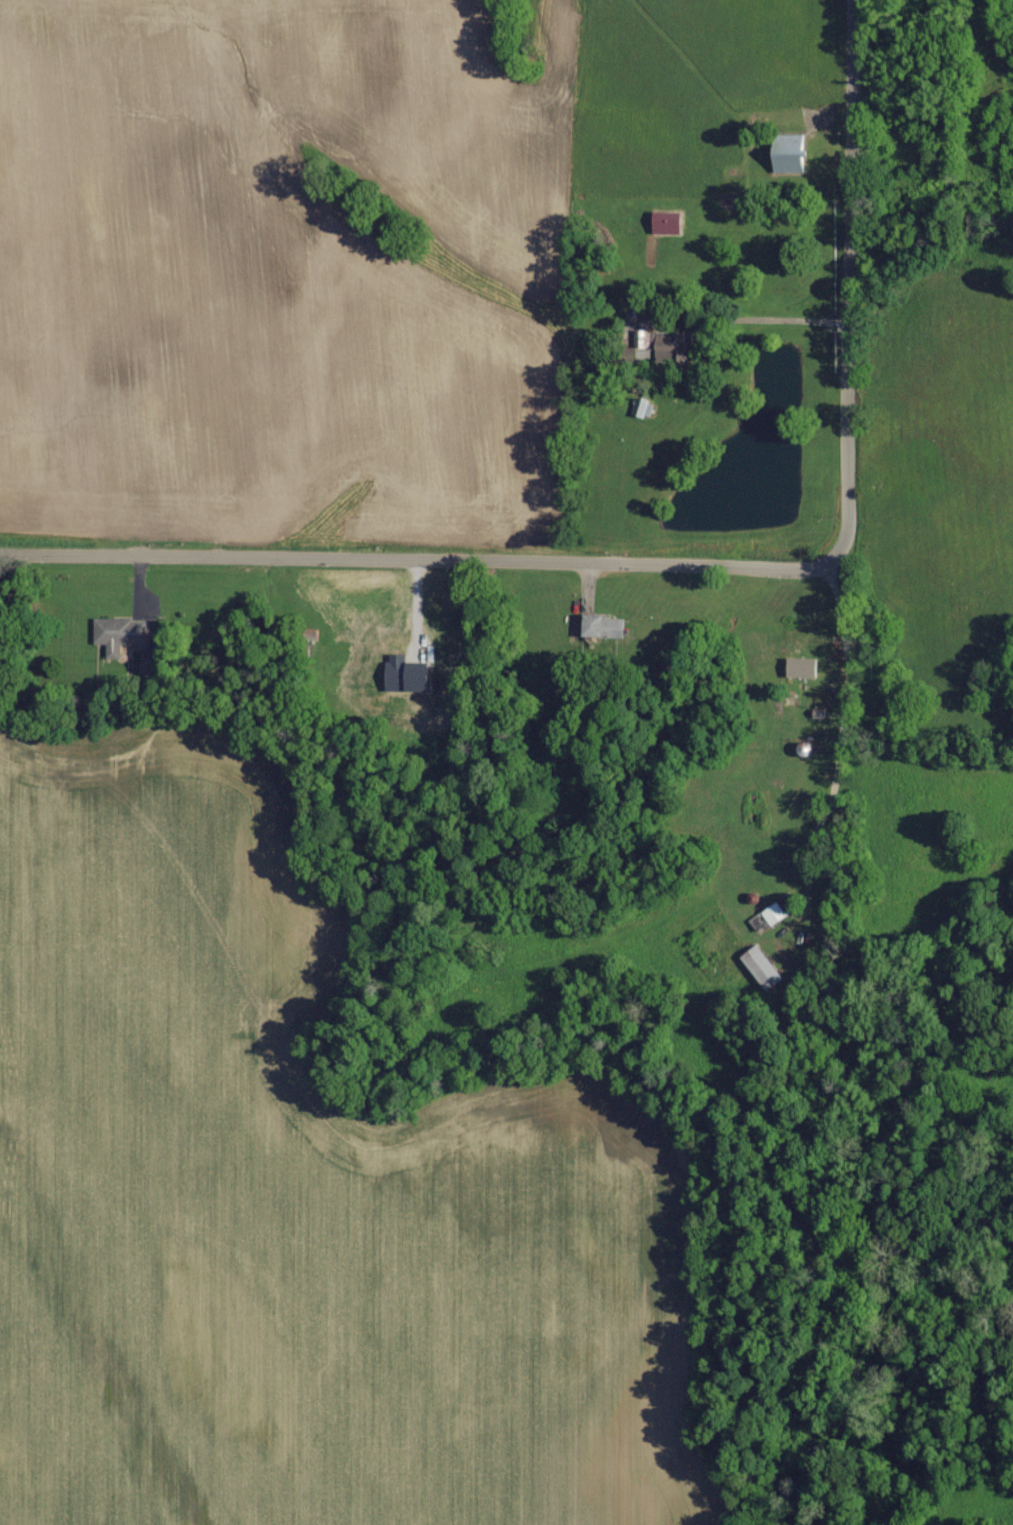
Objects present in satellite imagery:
building: (791, 154)
building: (670, 222)
road: (746, 317)
building: (675, 347)
road: (699, 568)
building: (804, 666)
road: (841, 732)
building: (776, 912)
building: (763, 966)

